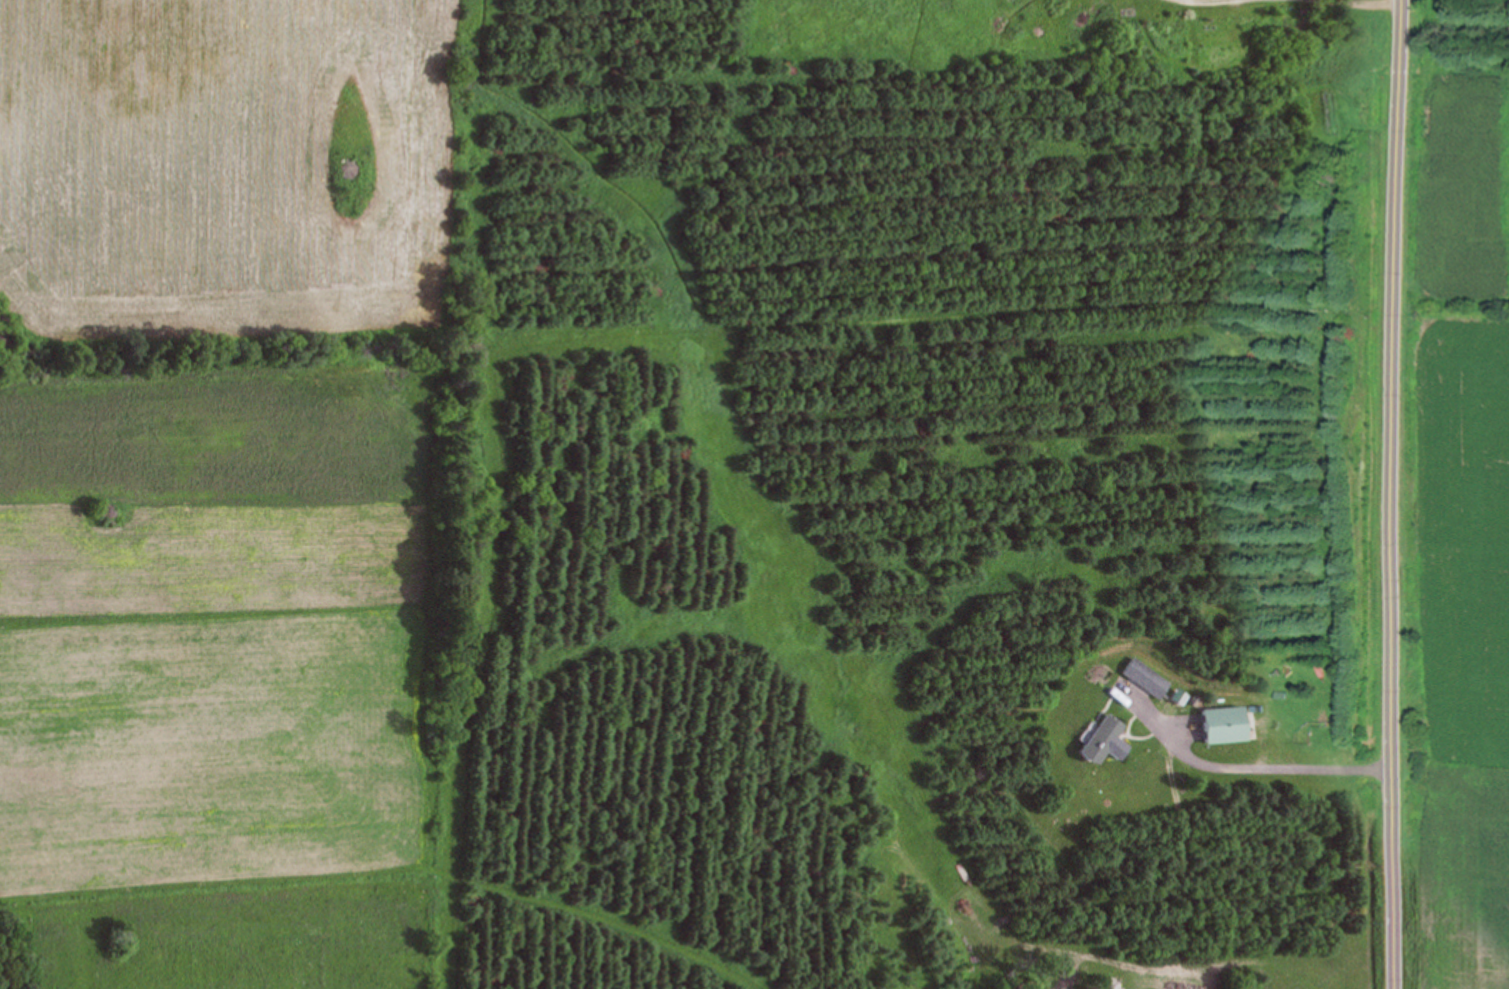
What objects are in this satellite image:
road: (1413, 1)
road: (1395, 494)
building: (1146, 677)
building: (1221, 725)
building: (1101, 740)
road: (1254, 765)

